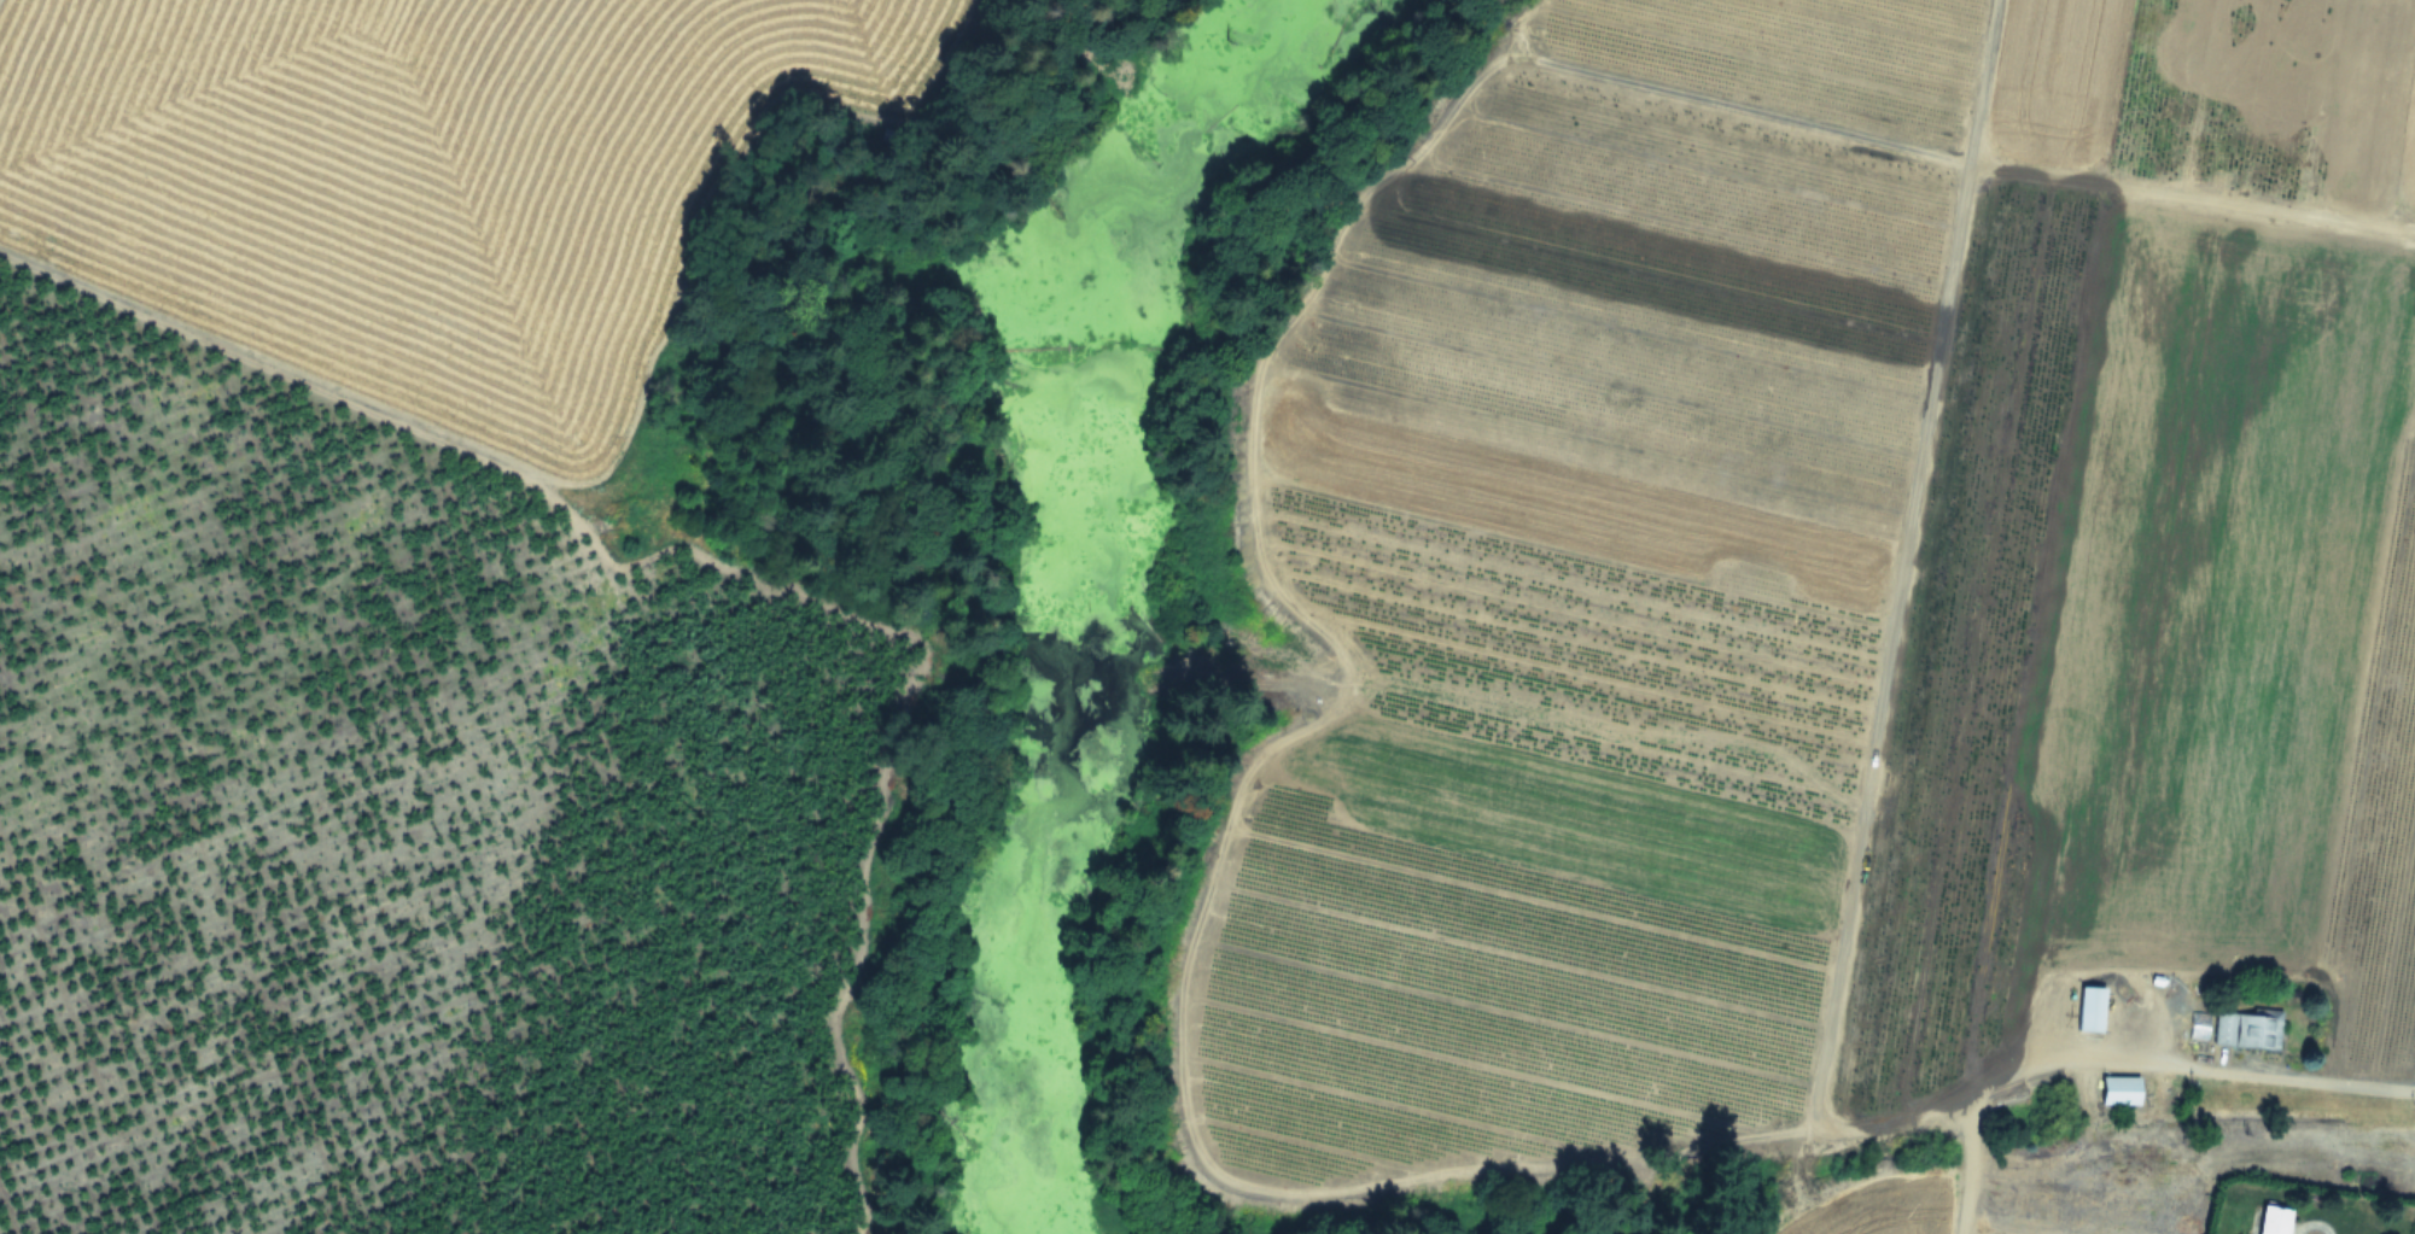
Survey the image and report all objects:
road: (1977, 78)
crop: (421, 171)
road: (1279, 580)
crop: (1850, 627)
road: (1888, 642)
road: (2299, 724)
building: (2090, 1007)
building: (2195, 1024)
building: (2247, 1028)
road: (2252, 1072)
building: (2119, 1088)
road: (1965, 1163)
building: (2274, 1220)
road: (2312, 1222)

